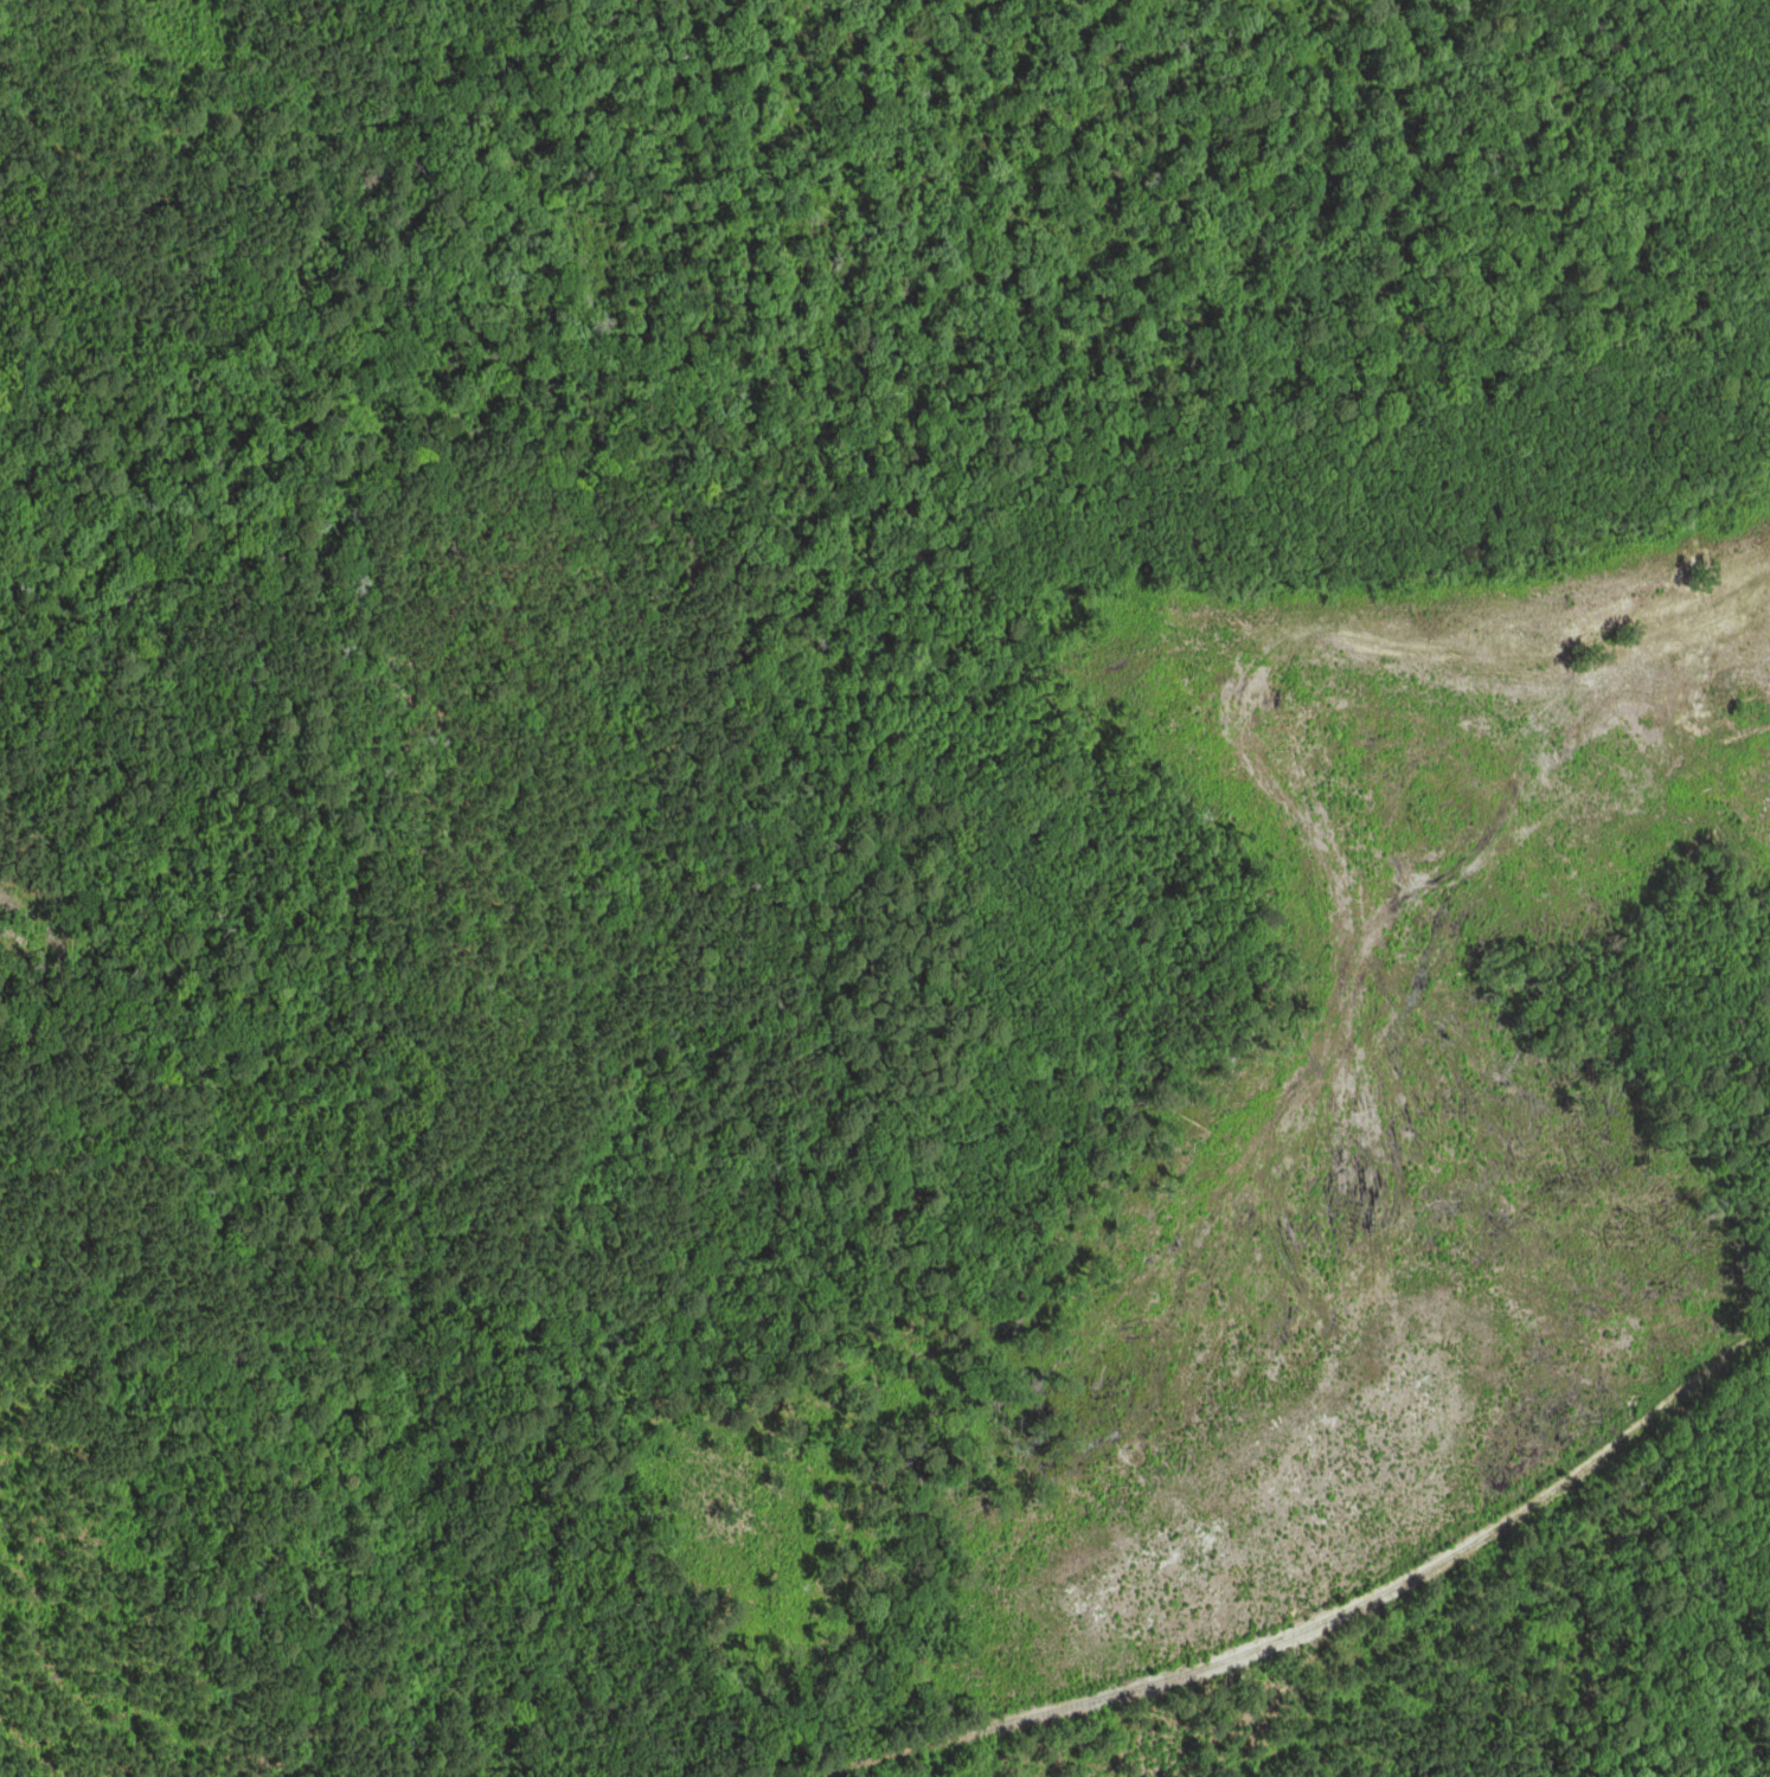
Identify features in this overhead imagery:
railway: (1316, 1624)

